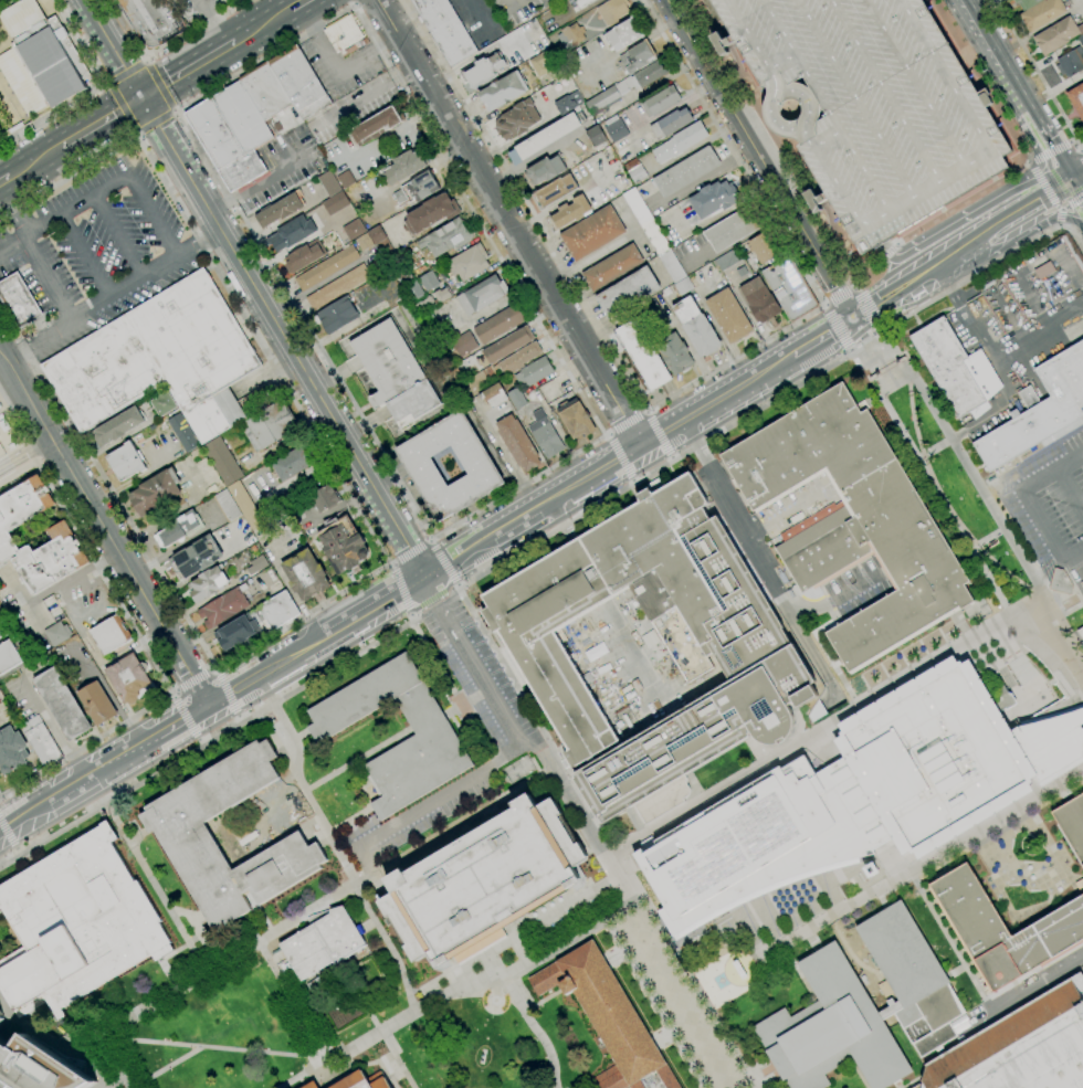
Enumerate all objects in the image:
road: (358, 1)
road: (513, 2)
road: (297, 3)
building: (583, 3)
building: (1027, 3)
road: (355, 4)
parking lot: (521, 9)
parking lot: (207, 10)
building: (612, 11)
building: (1041, 13)
road: (473, 19)
building: (153, 20)
parking lot: (477, 21)
road: (214, 22)
road: (262, 25)
building: (445, 30)
building: (623, 33)
road: (966, 33)
building: (344, 35)
building: (571, 35)
building: (1055, 35)
building: (1081, 35)
road: (756, 39)
building: (1081, 40)
building: (365, 41)
road: (993, 44)
road: (167, 46)
road: (113, 49)
road: (480, 56)
building: (637, 57)
building: (40, 59)
road: (145, 60)
building: (497, 61)
building: (541, 63)
building: (1071, 63)
road: (336, 67)
road: (187, 70)
road: (127, 72)
building: (481, 73)
building: (650, 74)
road: (1038, 74)
road: (107, 82)
road: (921, 84)
building: (625, 85)
road: (158, 86)
road: (651, 87)
road: (94, 88)
road: (1002, 88)
railway: (151, 91)
building: (503, 91)
railway: (156, 92)
road: (891, 92)
road: (364, 96)
traffic signals: (141, 98)
road: (861, 98)
building: (1076, 98)
building: (602, 101)
building: (660, 101)
building: (568, 103)
building: (869, 105)
parking lot: (869, 105)
road: (123, 106)
road: (830, 106)
road: (812, 108)
road: (175, 110)
road: (776, 110)
building: (254, 114)
building: (516, 119)
road: (155, 120)
building: (671, 123)
building: (377, 125)
road: (91, 128)
building: (616, 130)
road: (136, 131)
road: (1026, 133)
road: (1048, 134)
road: (392, 135)
building: (596, 136)
building: (544, 139)
road: (831, 140)
road: (1037, 140)
road: (1073, 140)
road: (122, 142)
building: (680, 142)
road: (1020, 145)
road: (776, 146)
road: (1081, 150)
road: (174, 152)
road: (1049, 152)
road: (1082, 154)
road: (760, 158)
road: (1026, 162)
road: (25, 167)
building: (403, 167)
parking lot: (281, 168)
building: (545, 170)
building: (635, 170)
building: (686, 171)
road: (964, 171)
road: (1079, 176)
road: (1044, 177)
road: (6, 178)
road: (1063, 178)
building: (347, 179)
traffic signals: (1074, 179)
road: (1043, 180)
building: (330, 182)
road: (1042, 183)
road: (253, 186)
road: (1077, 186)
traffic signals: (1059, 187)
building: (417, 188)
road: (1060, 189)
building: (554, 191)
road: (1063, 198)
building: (714, 199)
road: (1075, 200)
road: (560, 202)
building: (335, 203)
road: (76, 204)
building: (637, 207)
road: (1058, 208)
road: (1063, 208)
building: (278, 210)
road: (13, 212)
building: (570, 212)
road: (1012, 212)
building: (431, 213)
road: (153, 214)
road: (1060, 216)
road: (1077, 218)
road: (957, 219)
road: (509, 223)
road: (1013, 224)
road: (1059, 225)
building: (353, 229)
building: (730, 230)
building: (292, 233)
building: (592, 233)
road: (119, 234)
road: (1020, 235)
building: (654, 236)
building: (446, 237)
road: (198, 242)
road: (13, 243)
building: (364, 243)
building: (382, 244)
road: (232, 249)
building: (761, 250)
road: (887, 251)
building: (1073, 251)
parking lot: (95, 252)
road: (86, 254)
building: (304, 256)
road: (944, 257)
building: (728, 260)
building: (469, 262)
road: (1035, 263)
road: (963, 265)
building: (672, 266)
building: (377, 267)
building: (612, 267)
building: (326, 268)
road: (1070, 273)
road: (870, 275)
building: (402, 277)
building: (429, 281)
road: (945, 285)
building: (683, 286)
building: (338, 287)
building: (789, 288)
road: (855, 289)
building: (413, 291)
road: (893, 292)
building: (628, 293)
building: (442, 295)
building: (482, 295)
road: (839, 297)
road: (1028, 298)
building: (18, 300)
building: (759, 300)
building: (423, 305)
road: (823, 306)
road: (868, 308)
road: (1003, 310)
road: (82, 311)
building: (337, 315)
building: (729, 316)
road: (853, 317)
traffic signals: (854, 318)
road: (853, 319)
road: (969, 321)
building: (498, 325)
road: (838, 326)
building: (431, 327)
building: (696, 327)
parking lot: (1018, 328)
road: (1051, 328)
road: (883, 329)
road: (1029, 329)
road: (829, 334)
road: (36, 337)
building: (462, 345)
building: (508, 345)
road: (1038, 347)
road: (851, 349)
road: (1013, 349)
building: (674, 352)
building: (643, 355)
building: (519, 358)
building: (159, 360)
building: (388, 362)
road: (995, 363)
building: (955, 368)
building: (534, 372)
road: (1029, 376)
road: (883, 383)
road: (681, 390)
building: (494, 395)
road: (774, 398)
building: (1028, 398)
building: (516, 399)
building: (162, 402)
building: (413, 403)
road: (997, 409)
road: (646, 411)
building: (1041, 412)
building: (576, 419)
road: (628, 422)
building: (118, 425)
building: (269, 425)
road: (675, 426)
road: (10, 430)
building: (182, 433)
road: (659, 433)
road: (956, 433)
road: (341, 434)
building: (545, 435)
road: (603, 435)
road: (607, 435)
building: (517, 443)
road: (932, 447)
road: (25, 452)
road: (620, 456)
road: (672, 457)
building: (126, 462)
building: (222, 462)
building: (293, 463)
building: (479, 466)
road: (1051, 471)
road: (18, 472)
road: (632, 482)
road: (978, 488)
road: (1070, 490)
building: (155, 493)
building: (324, 498)
road: (521, 498)
parking lot: (1048, 499)
road: (943, 500)
road: (944, 501)
building: (228, 505)
building: (245, 505)
road: (787, 509)
building: (294, 513)
building: (853, 519)
road: (521, 522)
road: (558, 524)
road: (1040, 524)
road: (103, 528)
building: (180, 528)
road: (751, 530)
building: (63, 536)
road: (744, 536)
road: (986, 538)
road: (430, 541)
building: (344, 545)
road: (411, 552)
road: (1072, 552)
building: (197, 557)
road: (460, 559)
road: (443, 562)
road: (392, 563)
building: (257, 564)
road: (470, 571)
building: (305, 575)
traffic signals: (427, 579)
building: (1060, 582)
building: (208, 583)
road: (458, 587)
road: (401, 588)
road: (855, 589)
road: (458, 590)
road: (386, 602)
road: (437, 604)
building: (223, 606)
road: (440, 606)
building: (278, 610)
road: (1070, 610)
road: (410, 617)
road: (414, 620)
building: (261, 621)
road: (282, 628)
building: (239, 632)
building: (57, 633)
road: (336, 633)
building: (1081, 633)
building: (1, 634)
road: (137, 634)
building: (111, 635)
road: (960, 643)
road: (807, 649)
road: (630, 651)
building: (735, 654)
building: (9, 656)
road: (212, 670)
road: (215, 670)
road: (507, 672)
road: (265, 673)
building: (128, 678)
road: (193, 680)
road: (451, 688)
road: (228, 690)
road: (487, 691)
road: (175, 693)
road: (174, 696)
road: (656, 698)
building: (62, 704)
building: (97, 704)
road: (240, 715)
road: (185, 716)
road: (824, 726)
parking lot: (509, 727)
road: (170, 728)
road: (52, 729)
building: (432, 739)
road: (199, 740)
road: (275, 740)
building: (41, 741)
road: (286, 742)
road: (204, 743)
road: (785, 746)
road: (532, 750)
building: (11, 751)
road: (494, 758)
road: (357, 761)
road: (109, 763)
road: (78, 782)
road: (694, 788)
road: (306, 793)
road: (59, 794)
building: (861, 795)
road: (427, 804)
road: (576, 805)
road: (21, 815)
road: (347, 818)
road: (635, 823)
building: (1072, 824)
road: (8, 833)
building: (186, 837)
road: (958, 848)
road: (18, 849)
road: (619, 877)
building: (484, 883)
road: (893, 884)
road: (157, 886)
road: (632, 894)
road: (566, 906)
road: (297, 916)
building: (76, 925)
building: (1003, 929)
road: (199, 931)
road: (194, 937)
building: (322, 941)
road: (951, 944)
road: (388, 946)
road: (624, 950)
road: (490, 964)
building: (912, 979)
fountain: (719, 980)
building: (316, 982)
road: (412, 990)
road: (1032, 992)
road: (675, 994)
road: (288, 999)
road: (541, 1000)
road: (433, 1006)
road: (367, 1011)
building: (1, 1017)
building: (609, 1020)
road: (38, 1026)
building: (831, 1029)
road: (535, 1031)
road: (359, 1044)
building: (1021, 1047)
building: (943, 1048)
building: (38, 1067)
road: (169, 1067)
road: (308, 1073)
road: (107, 1075)
building: (359, 1081)
building: (311, 1085)
road: (583, 1086)

